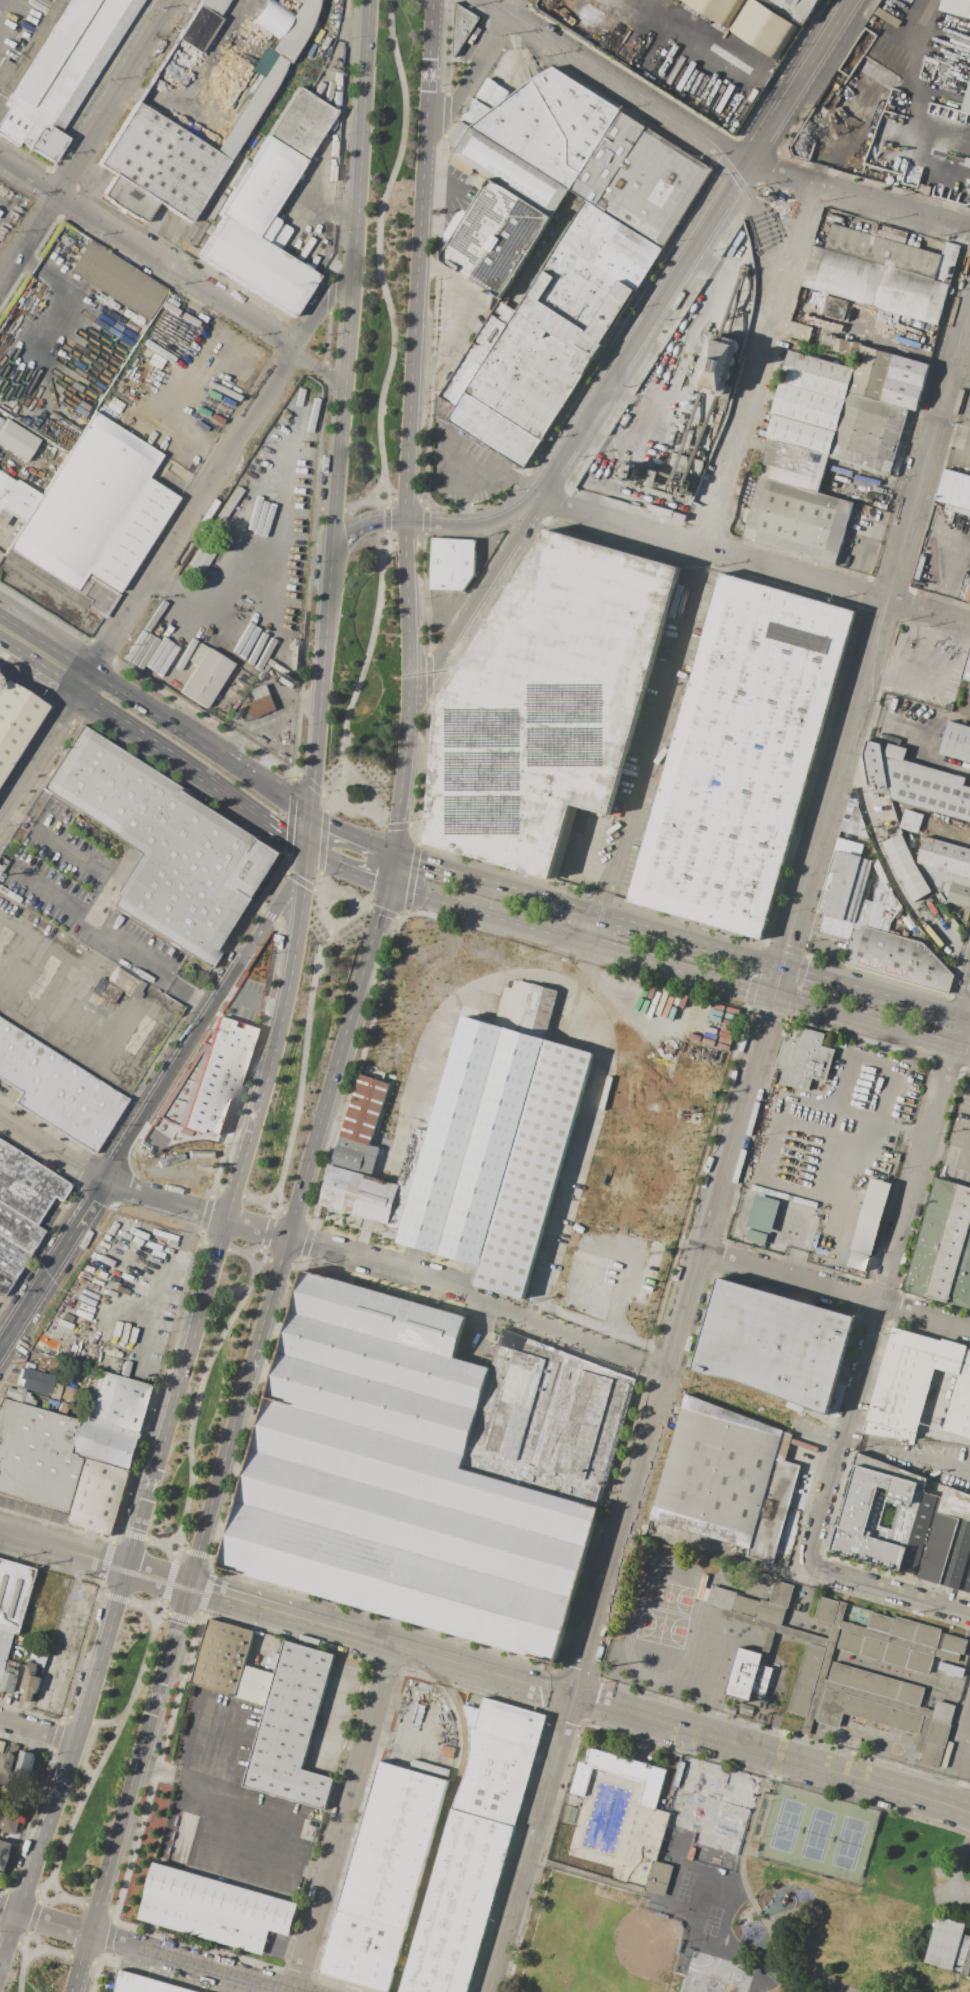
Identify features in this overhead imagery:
road: (848, 2)
building: (213, 5)
building: (956, 7)
road: (244, 8)
road: (514, 8)
building: (794, 8)
building: (888, 17)
building: (872, 19)
road: (914, 21)
building: (749, 22)
road: (8, 24)
building: (198, 28)
building: (462, 28)
building: (295, 30)
road: (818, 50)
road: (726, 52)
building: (262, 62)
building: (57, 69)
road: (433, 72)
road: (469, 80)
railway: (584, 80)
railway: (627, 89)
building: (967, 102)
building: (252, 106)
building: (301, 124)
building: (550, 125)
road: (838, 142)
road: (91, 144)
road: (714, 145)
building: (911, 166)
building: (157, 167)
building: (504, 169)
building: (640, 179)
road: (88, 187)
building: (261, 187)
road: (441, 187)
building: (924, 189)
road: (312, 202)
road: (0, 208)
building: (768, 212)
building: (273, 233)
building: (495, 238)
road: (379, 243)
road: (146, 251)
building: (883, 251)
park: (386, 262)
building: (947, 262)
building: (256, 266)
road: (4, 273)
road: (353, 273)
road: (44, 274)
building: (118, 280)
building: (589, 280)
building: (875, 284)
road: (665, 294)
road: (321, 307)
building: (836, 307)
road: (471, 314)
railway: (961, 339)
building: (841, 346)
building: (717, 365)
silo: (717, 365)
road: (763, 366)
road: (318, 367)
building: (817, 374)
building: (888, 378)
road: (659, 380)
building: (513, 383)
road: (626, 395)
building: (808, 406)
road: (409, 420)
building: (677, 421)
building: (1, 422)
road: (952, 432)
building: (868, 433)
building: (801, 434)
road: (595, 438)
building: (16, 441)
road: (3, 459)
parking lot: (465, 465)
building: (794, 465)
road: (461, 468)
building: (655, 478)
road: (522, 482)
building: (955, 492)
road: (538, 495)
road: (464, 498)
building: (15, 500)
building: (84, 500)
road: (407, 500)
road: (383, 504)
road: (557, 504)
road: (356, 507)
road: (387, 519)
building: (797, 520)
road: (473, 523)
road: (365, 524)
road: (874, 530)
road: (384, 535)
road: (361, 539)
road: (407, 544)
building: (124, 547)
road: (955, 552)
building: (201, 556)
building: (452, 563)
road: (773, 568)
road: (146, 585)
building: (969, 600)
road: (478, 601)
road: (219, 617)
road: (48, 631)
road: (7, 643)
road: (427, 643)
road: (45, 644)
road: (2, 652)
building: (197, 653)
road: (2, 657)
road: (922, 665)
road: (365, 667)
building: (966, 668)
road: (49, 669)
building: (206, 677)
road: (321, 680)
road: (38, 681)
park: (365, 688)
building: (261, 692)
building: (545, 702)
building: (258, 707)
building: (15, 720)
road: (656, 734)
building: (956, 741)
road: (201, 743)
road: (166, 753)
building: (740, 755)
building: (875, 765)
building: (925, 786)
road: (324, 795)
road: (335, 805)
road: (362, 810)
traffic signals: (310, 815)
building: (847, 817)
building: (911, 821)
building: (857, 823)
road: (387, 827)
building: (966, 827)
road: (308, 835)
road: (349, 835)
road: (278, 836)
building: (165, 845)
traffic signals: (391, 852)
road: (321, 853)
traffic signals: (307, 856)
building: (944, 856)
road: (428, 866)
road: (573, 866)
building: (906, 867)
road: (344, 872)
building: (845, 881)
building: (947, 884)
traffic signals: (384, 886)
road: (310, 888)
road: (45, 889)
parking lot: (84, 893)
building: (882, 903)
building: (864, 906)
road: (378, 909)
road: (85, 911)
road: (327, 920)
building: (836, 927)
road: (600, 931)
road: (578, 938)
road: (44, 940)
road: (714, 949)
building: (896, 958)
road: (525, 968)
traffic signals: (781, 969)
road: (363, 970)
railway: (478, 976)
road: (78, 982)
building: (105, 990)
traffic signals: (773, 994)
road: (253, 1000)
road: (73, 1001)
road: (204, 1017)
road: (871, 1022)
road: (966, 1022)
park: (307, 1041)
building: (803, 1058)
road: (303, 1059)
road: (107, 1065)
building: (216, 1075)
building: (56, 1090)
railway: (669, 1090)
railway: (1, 1103)
road: (853, 1114)
road: (149, 1133)
building: (476, 1142)
railway: (729, 1148)
road: (729, 1148)
road: (52, 1150)
railway: (600, 1150)
road: (586, 1152)
road: (967, 1153)
road: (967, 1162)
railway: (113, 1164)
railway: (93, 1173)
building: (26, 1184)
road: (249, 1197)
road: (165, 1202)
road: (59, 1213)
road: (270, 1213)
building: (762, 1213)
road: (226, 1215)
road: (296, 1215)
building: (869, 1216)
road: (82, 1219)
road: (258, 1229)
building: (18, 1230)
road: (267, 1232)
building: (755, 1236)
road: (153, 1245)
building: (943, 1247)
road: (233, 1252)
building: (10, 1258)
road: (264, 1258)
road: (378, 1264)
road: (281, 1265)
road: (166, 1280)
road: (889, 1280)
building: (4, 1282)
road: (834, 1291)
parking lot: (121, 1302)
road: (29, 1303)
road: (11, 1305)
road: (476, 1329)
road: (564, 1334)
building: (773, 1344)
building: (35, 1381)
building: (917, 1384)
building: (66, 1393)
building: (17, 1395)
road: (198, 1397)
building: (120, 1402)
park: (207, 1402)
road: (241, 1413)
road: (814, 1433)
building: (104, 1443)
road: (802, 1445)
building: (783, 1446)
road: (906, 1454)
building: (38, 1457)
building: (426, 1470)
building: (716, 1472)
road: (159, 1481)
building: (99, 1497)
building: (774, 1510)
building: (877, 1519)
building: (941, 1540)
building: (720, 1544)
road: (692, 1546)
road: (63, 1551)
road: (192, 1553)
road: (173, 1558)
building: (722, 1576)
road: (158, 1580)
road: (169, 1580)
building: (753, 1586)
road: (888, 1591)
building: (15, 1593)
road: (133, 1602)
road: (165, 1613)
road: (174, 1617)
road: (265, 1638)
building: (5, 1649)
building: (222, 1657)
building: (273, 1662)
building: (931, 1666)
building: (9, 1680)
building: (30, 1681)
building: (255, 1685)
road: (581, 1698)
building: (729, 1708)
building: (747, 1709)
railway: (556, 1710)
building: (761, 1710)
road: (332, 1717)
road: (112, 1721)
building: (291, 1728)
road: (39, 1730)
road: (347, 1741)
road: (387, 1741)
road: (88, 1742)
road: (405, 1743)
building: (2, 1746)
road: (107, 1753)
building: (431, 1757)
park: (104, 1758)
building: (498, 1759)
building: (23, 1767)
building: (7, 1769)
road: (88, 1770)
building: (617, 1772)
road: (66, 1780)
road: (134, 1791)
parking lot: (231, 1805)
park: (709, 1815)
road: (346, 1818)
building: (10, 1822)
park: (818, 1834)
road: (224, 1838)
building: (393, 1844)
road: (962, 1853)
building: (4, 1854)
building: (657, 1877)
road: (959, 1883)
park: (738, 1886)
road: (36, 1890)
parking lot: (951, 1890)
road: (749, 1894)
road: (650, 1895)
road: (947, 1897)
road: (47, 1903)
road: (80, 1903)
building: (457, 1904)
building: (214, 1909)
road: (33, 1918)
park: (599, 1942)
road: (288, 1943)
road: (24, 1944)
building: (949, 1946)
road: (144, 1949)
building: (363, 1950)
road: (62, 1953)
park: (39, 1965)
road: (22, 1972)
park: (716, 1975)
building: (144, 1984)

